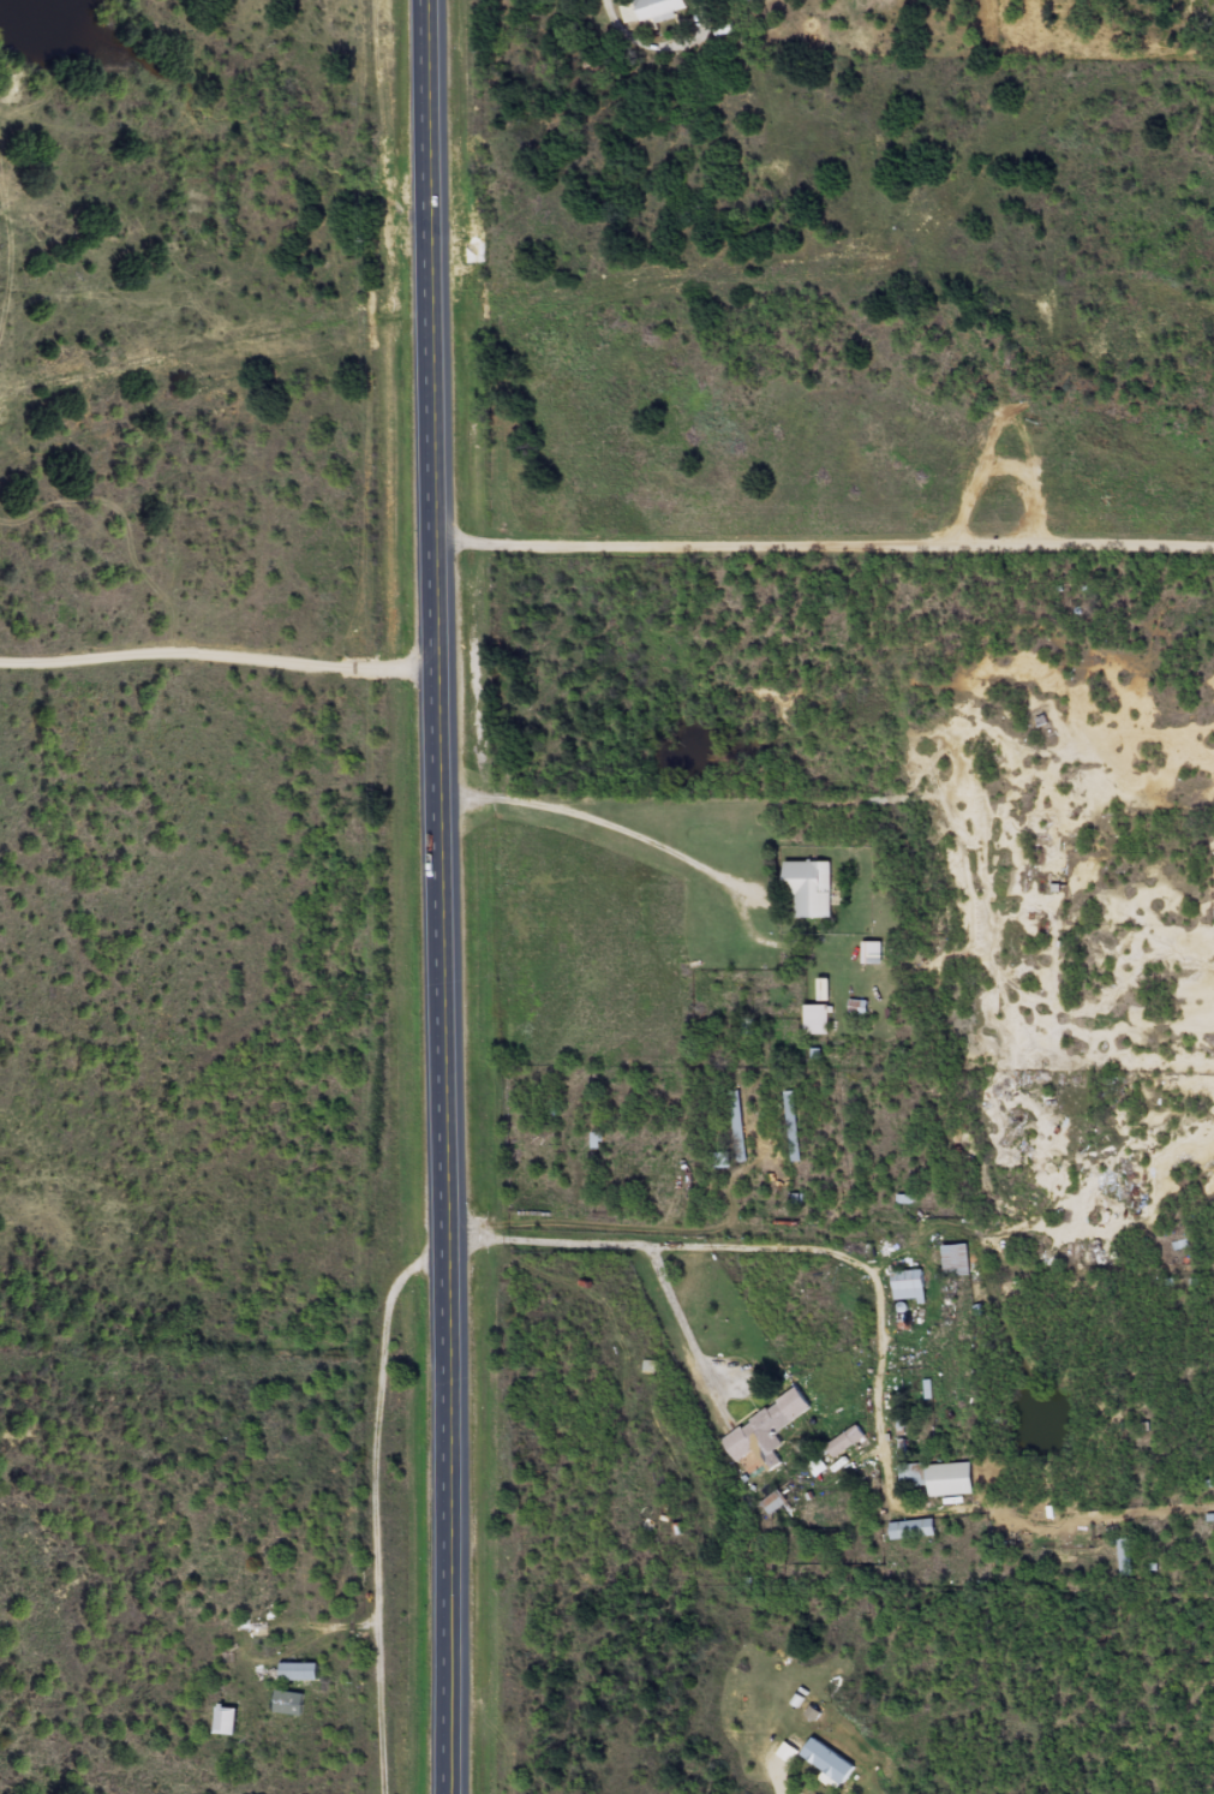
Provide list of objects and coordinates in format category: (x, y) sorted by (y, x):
building: (749, 0)
building: (653, 10)
road: (826, 550)
road: (220, 650)
building: (812, 888)
road: (443, 896)
building: (873, 953)
building: (820, 1019)
building: (738, 1126)
building: (794, 1126)
building: (723, 1158)
building: (959, 1260)
building: (911, 1286)
road: (837, 1293)
building: (769, 1429)
building: (849, 1440)
building: (940, 1477)
building: (775, 1501)
building: (915, 1527)
building: (1128, 1556)
road: (995, 1568)
building: (304, 1671)
building: (831, 1759)

